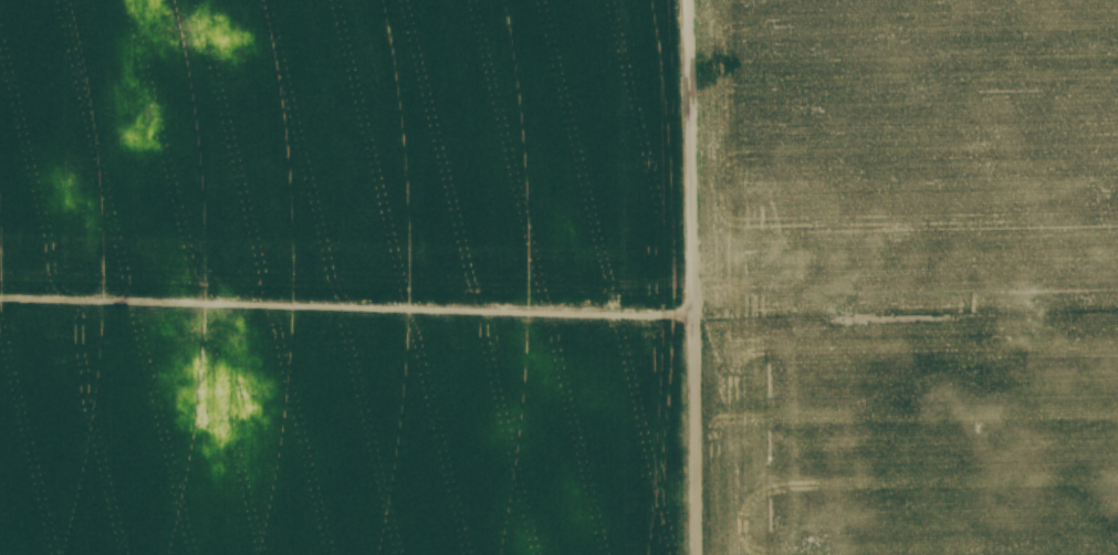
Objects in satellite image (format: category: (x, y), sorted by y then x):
crop: (558, 277)

